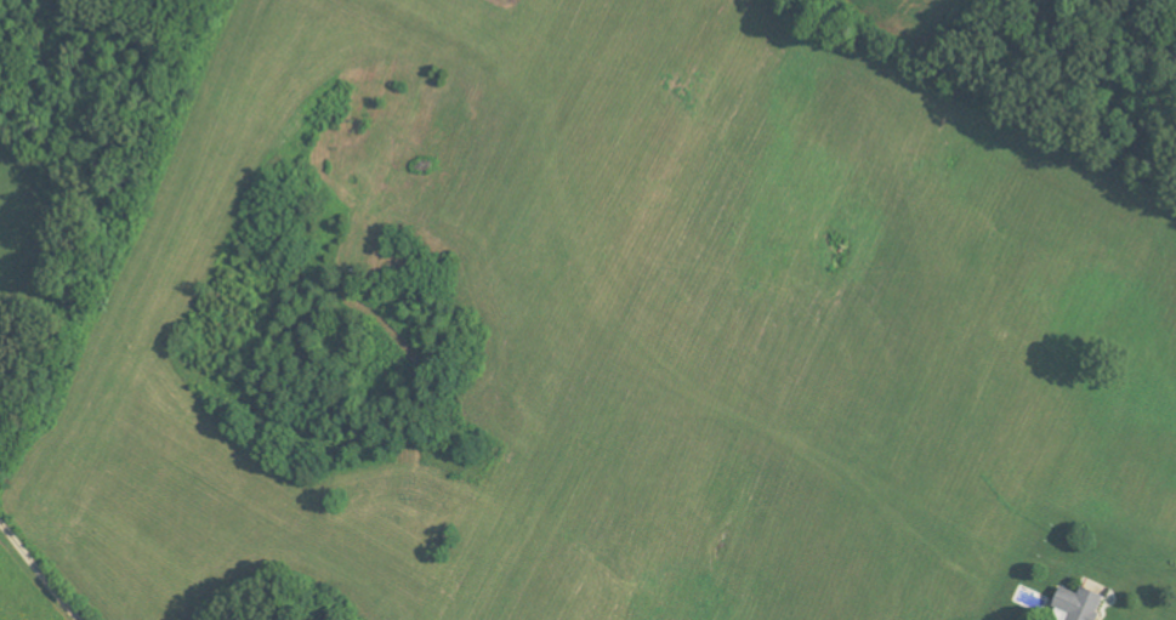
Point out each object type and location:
road: (40, 569)
building: (1084, 603)

